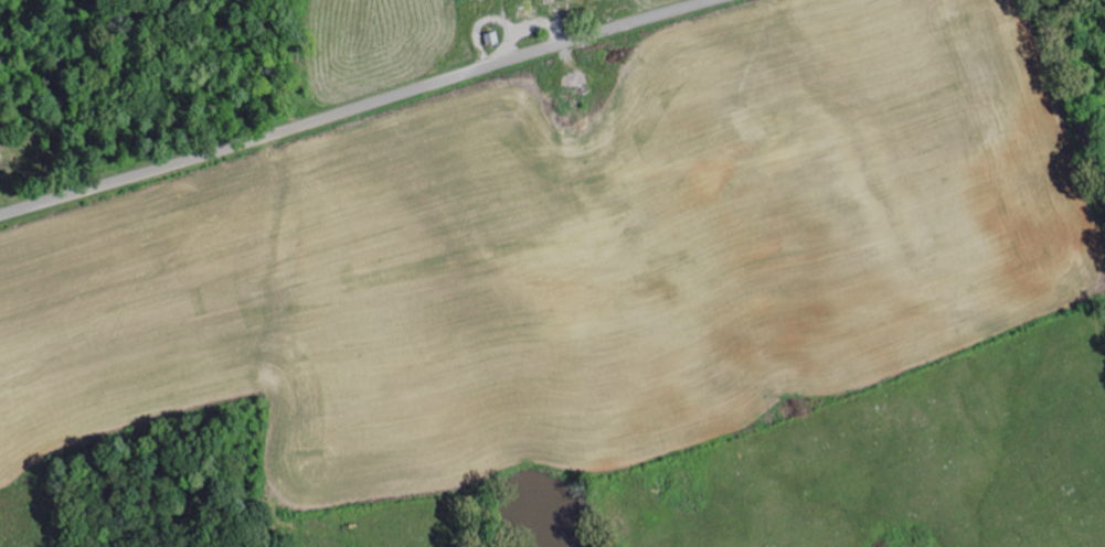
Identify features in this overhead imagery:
road: (1069, 100)
road: (350, 108)

